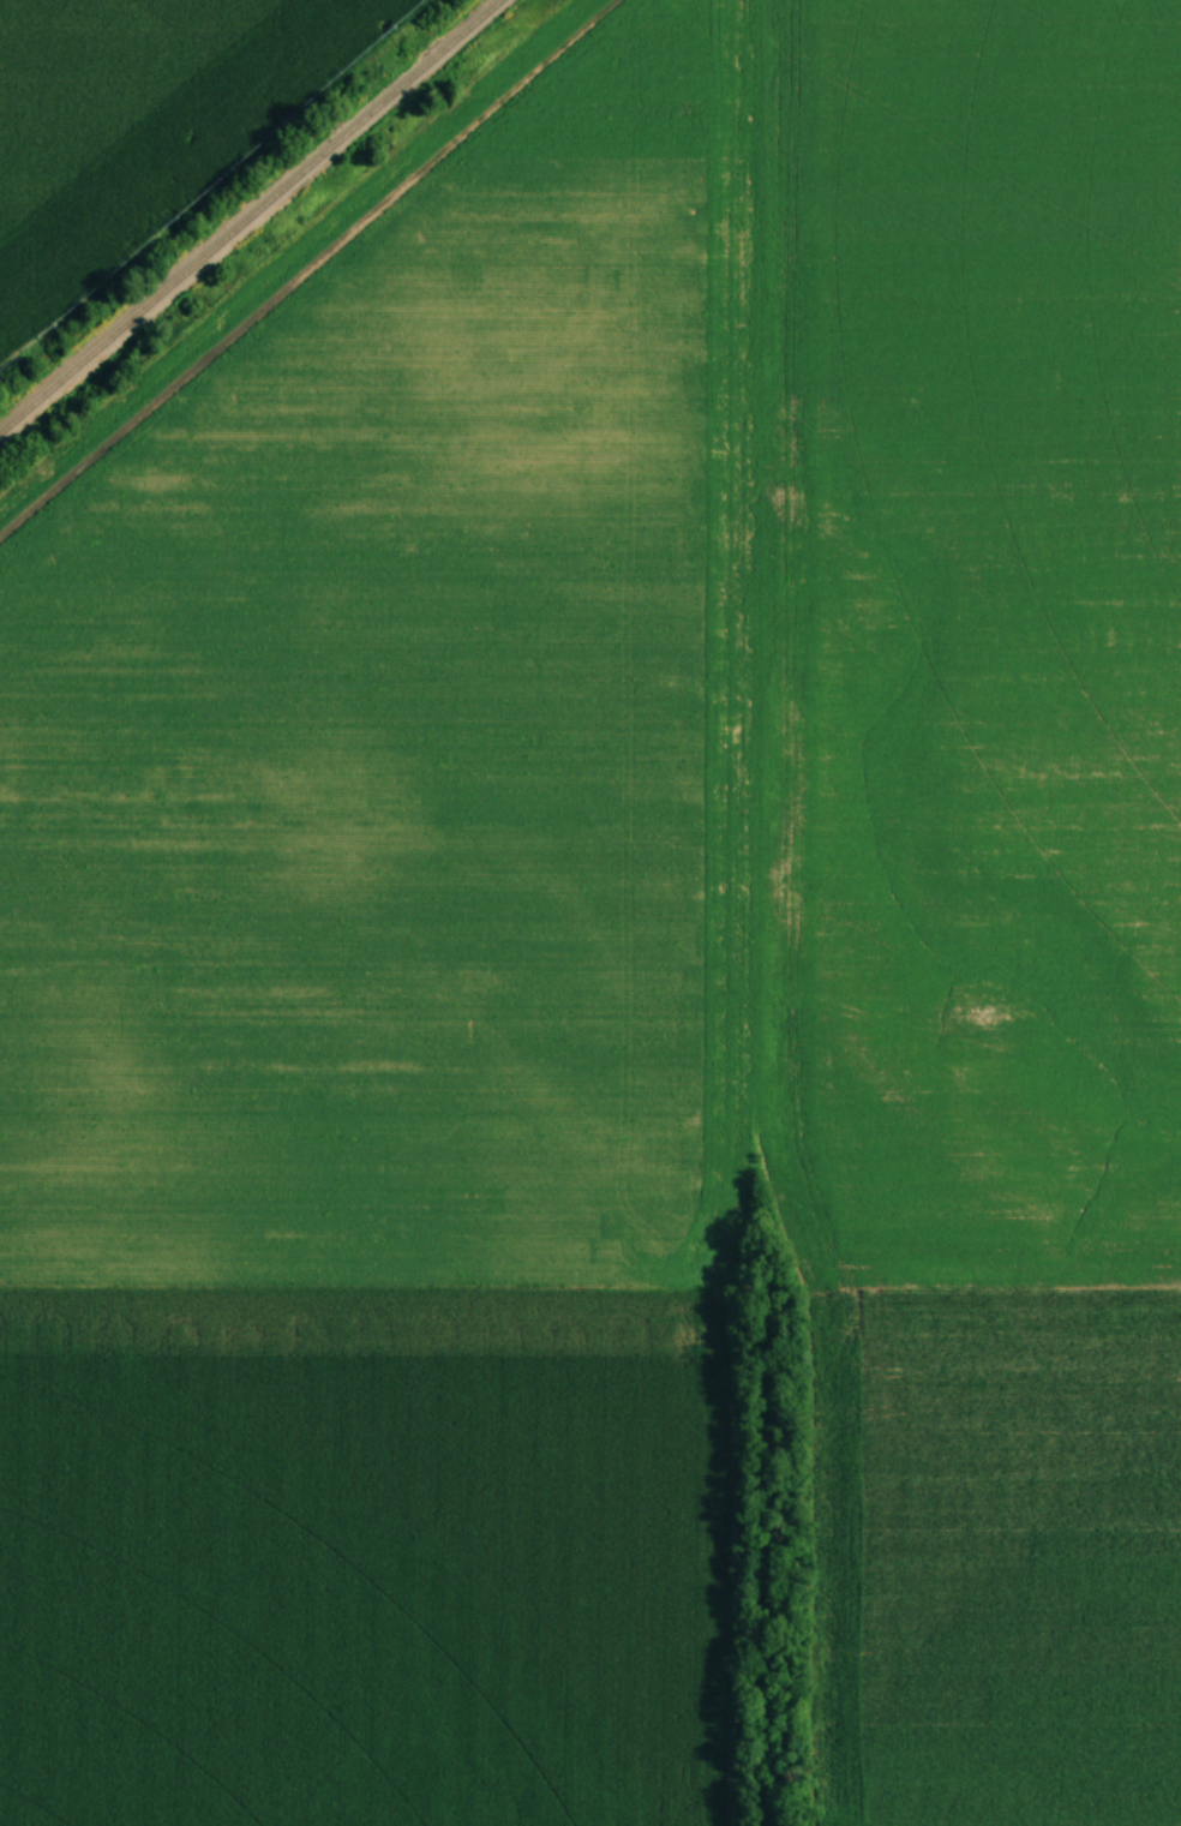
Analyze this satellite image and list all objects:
crop: (138, 120)
railway: (253, 217)
crop: (684, 807)
crop: (359, 1557)

